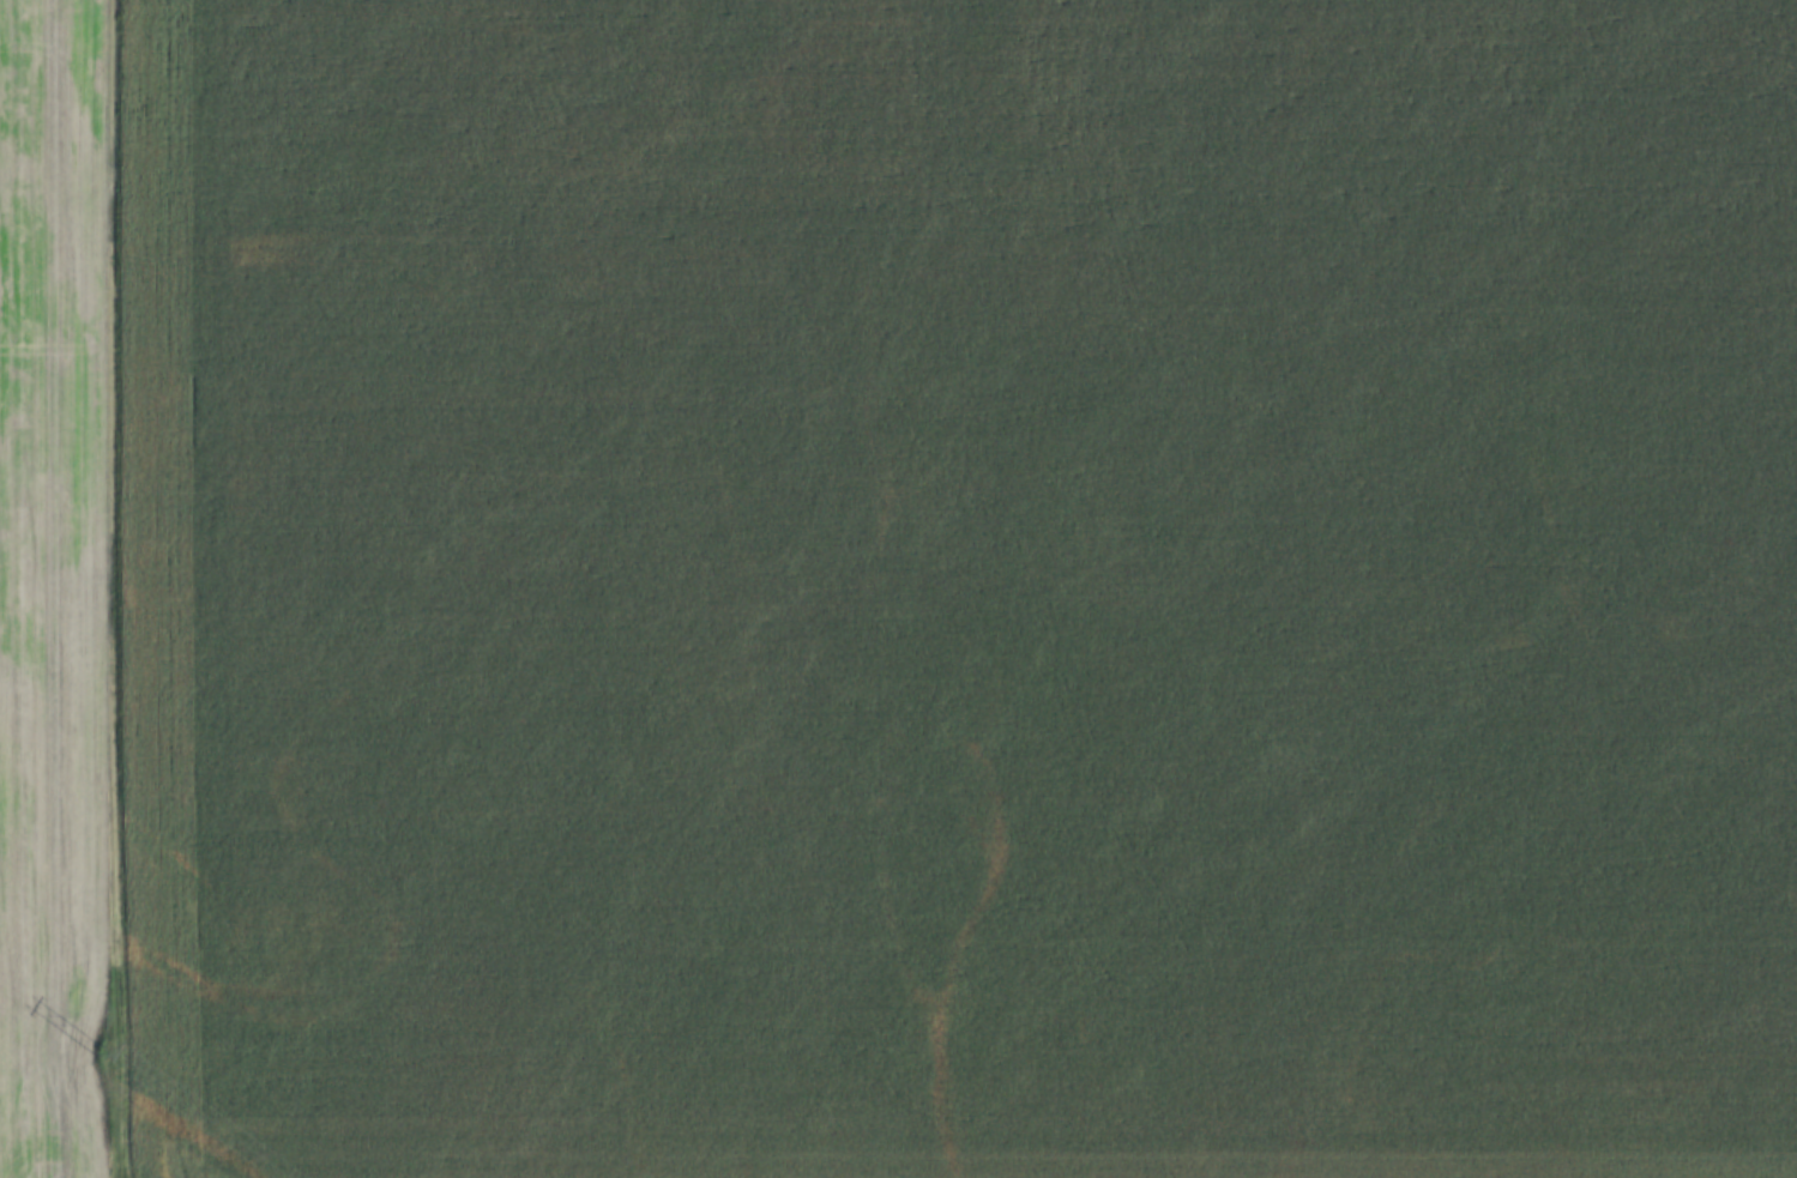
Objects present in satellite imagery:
power tower: (102, 1052)

